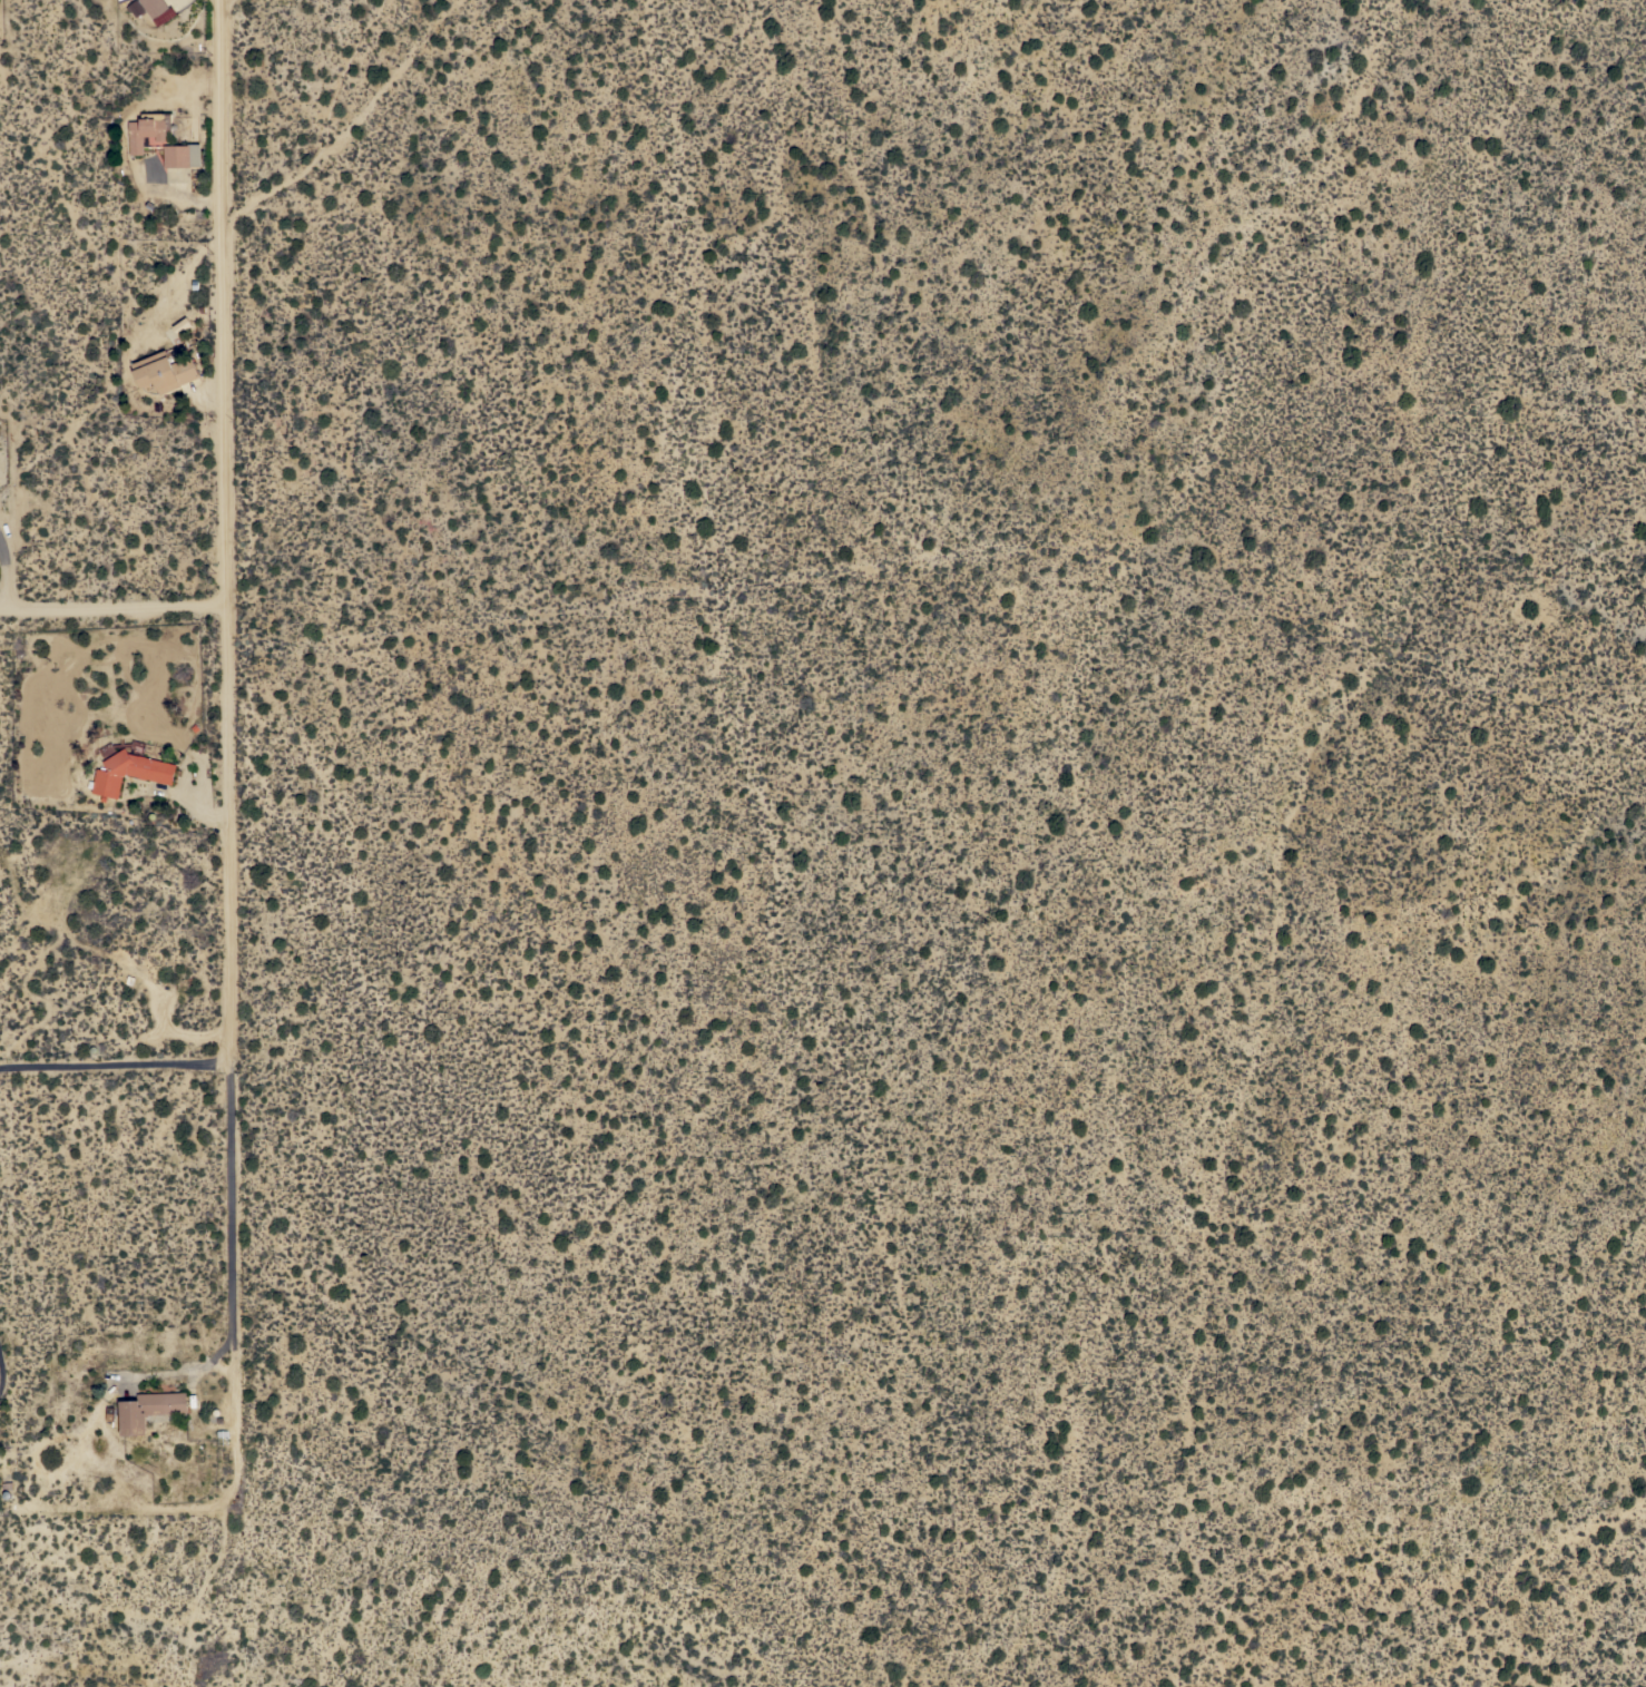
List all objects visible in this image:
building: (154, 7)
building: (146, 130)
building: (182, 155)
building: (165, 371)
road: (4, 576)
road: (115, 608)
road: (231, 744)
building: (129, 772)
road: (116, 1059)
road: (4, 1370)
road: (180, 1371)
building: (149, 1410)
road: (101, 1505)

